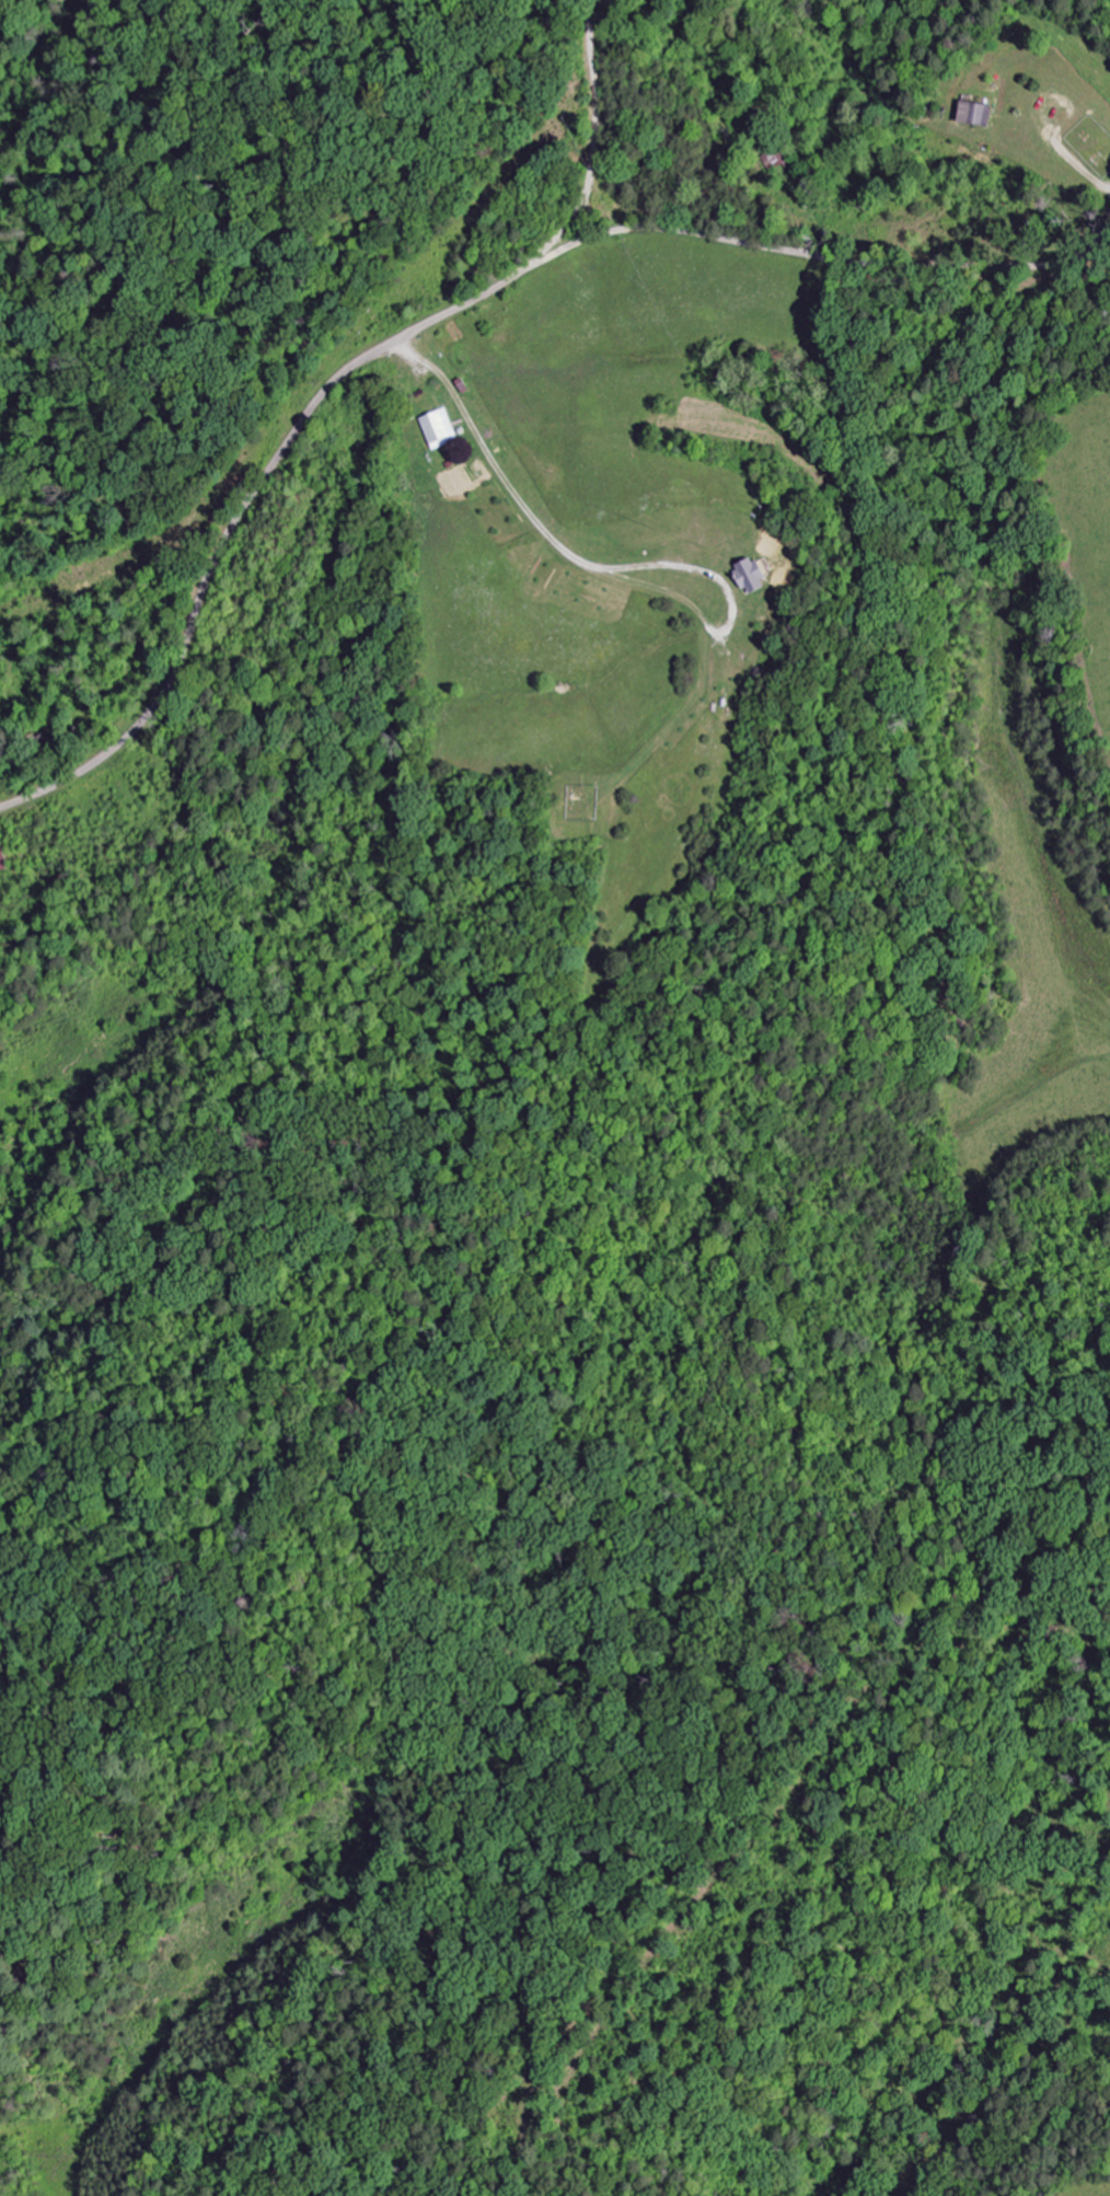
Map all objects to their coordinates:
building: (963, 113)
road: (315, 396)
building: (436, 429)

